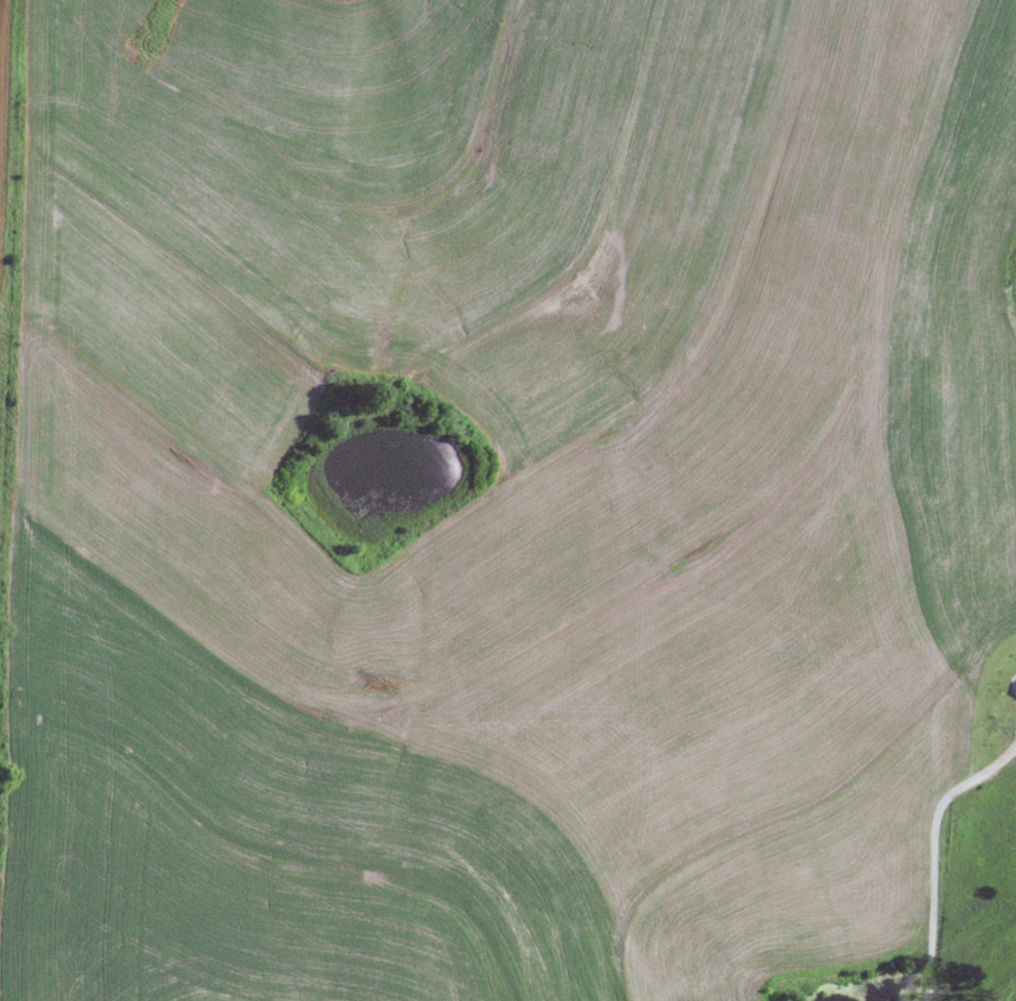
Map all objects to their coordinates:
road: (929, 853)

